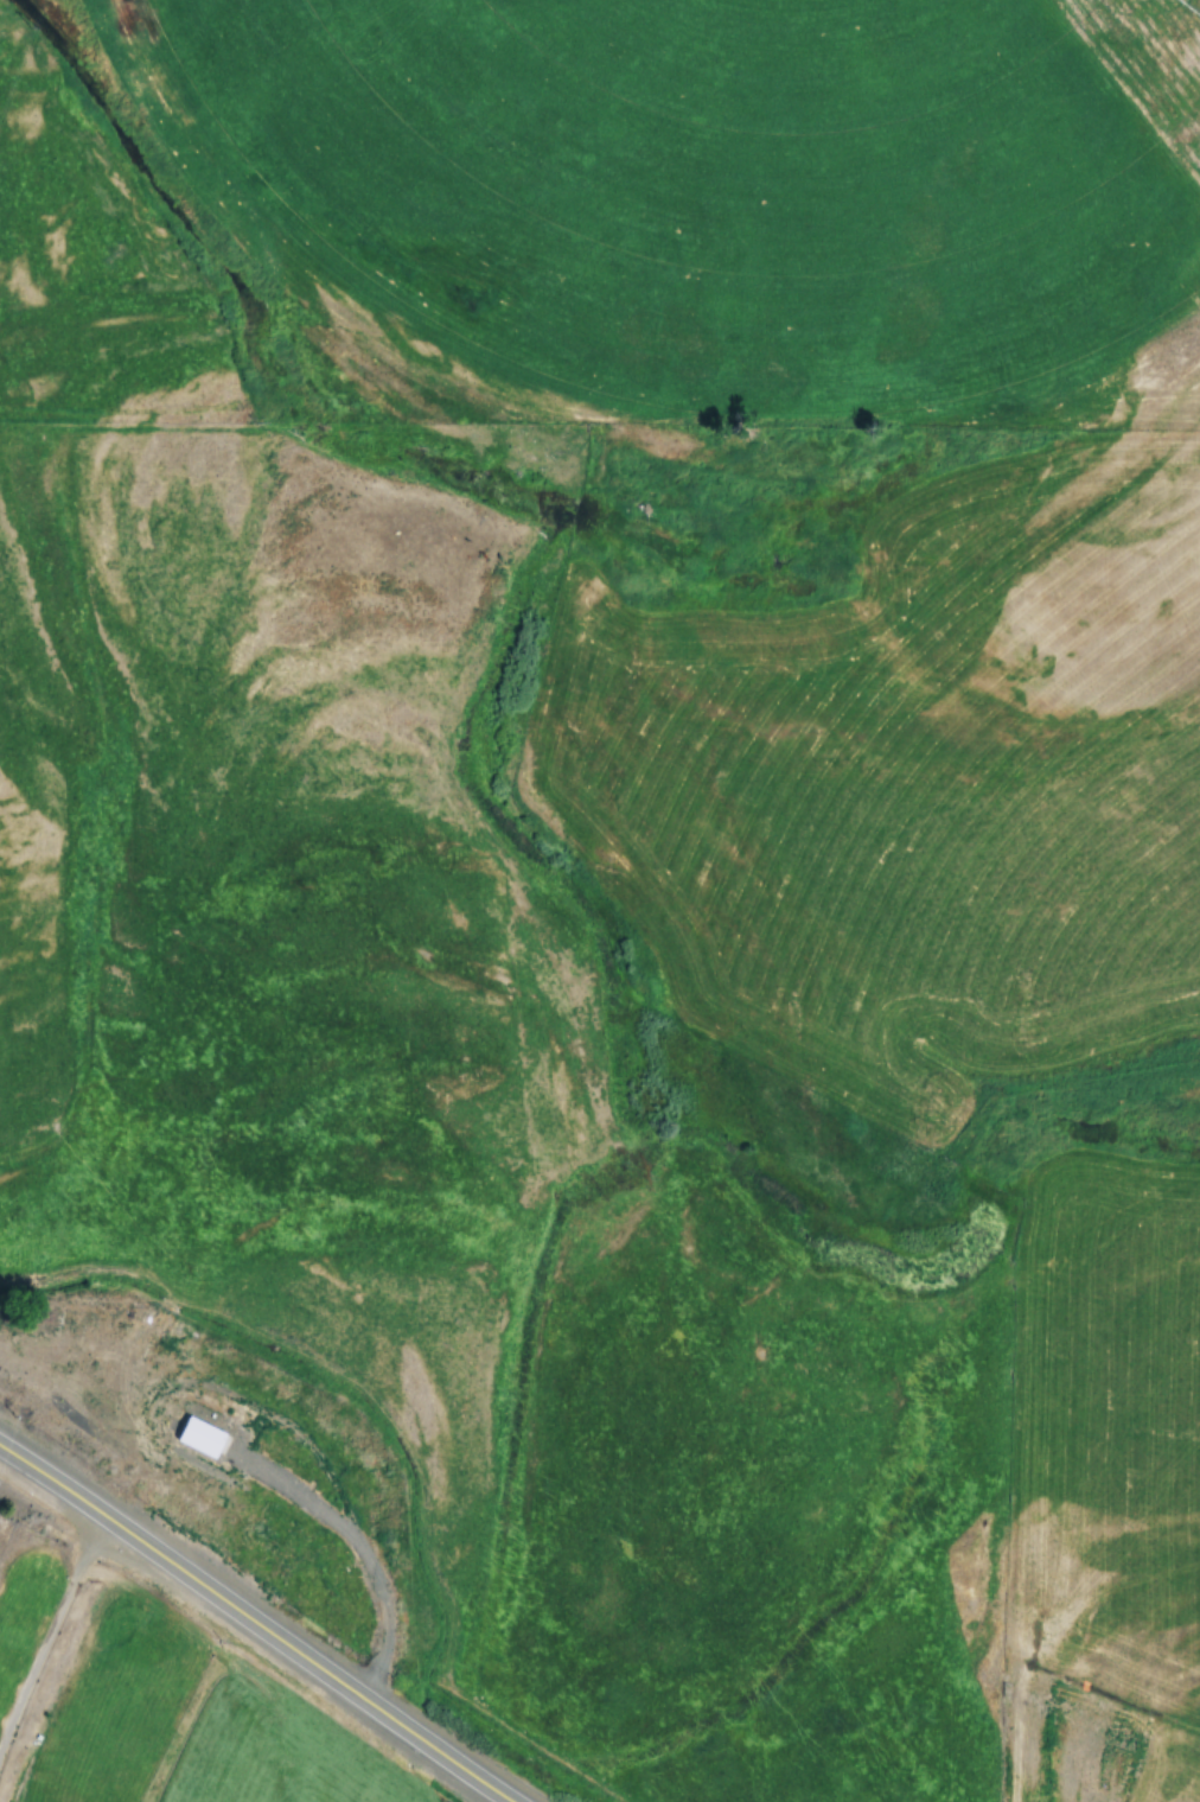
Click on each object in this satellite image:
building: (196, 1440)
road: (357, 1548)
road: (50, 1615)
road: (260, 1626)

